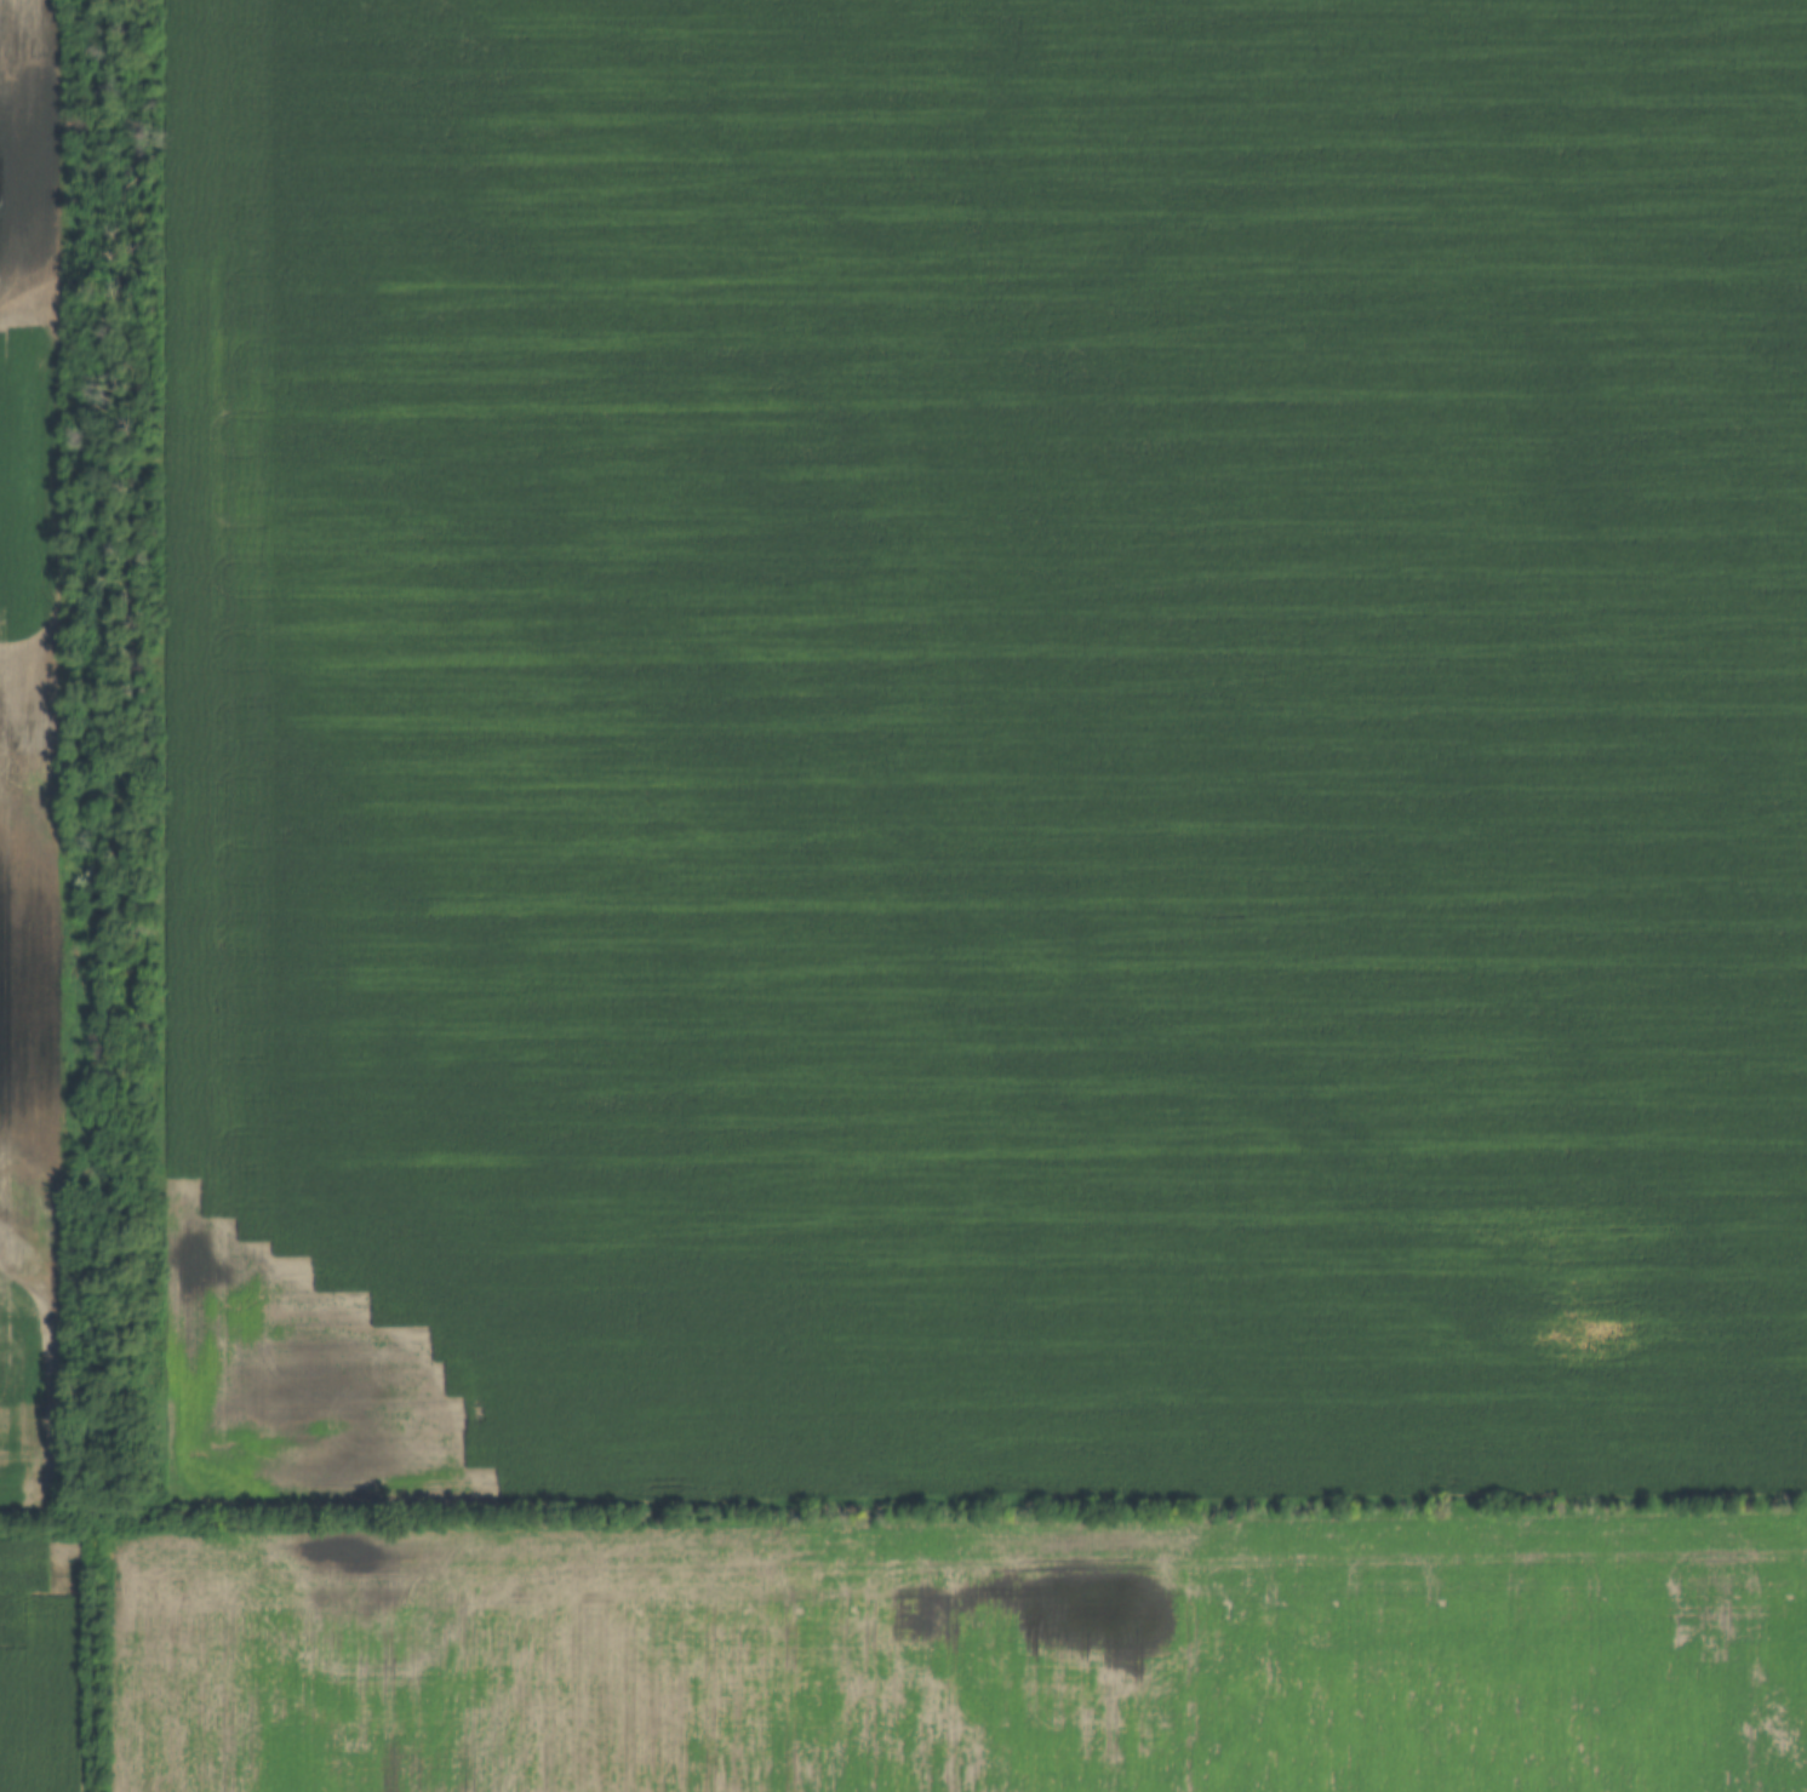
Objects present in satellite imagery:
road: (65, 7)
road: (1027, 1489)

